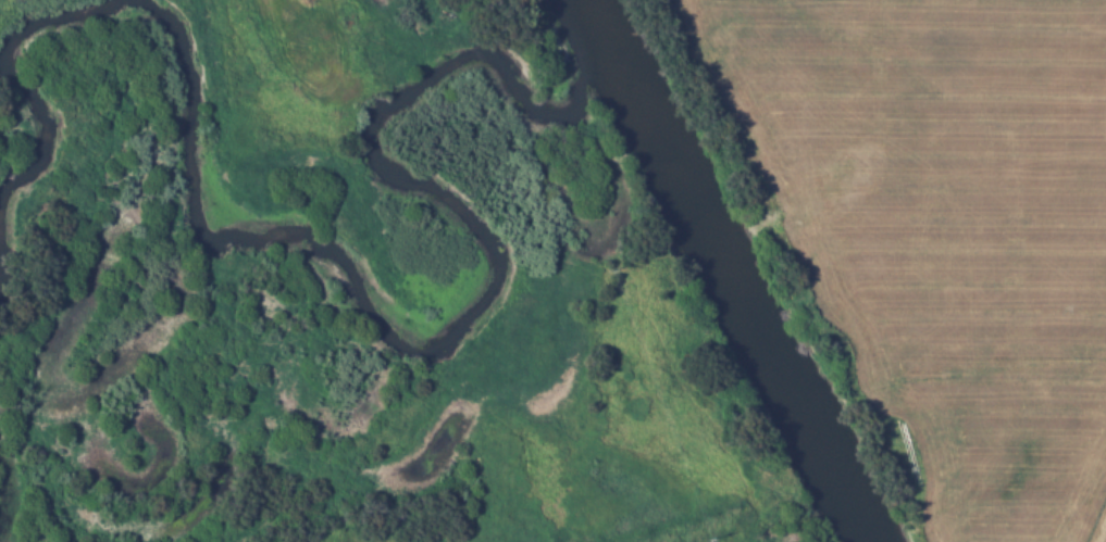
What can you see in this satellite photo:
river: (740, 269)

